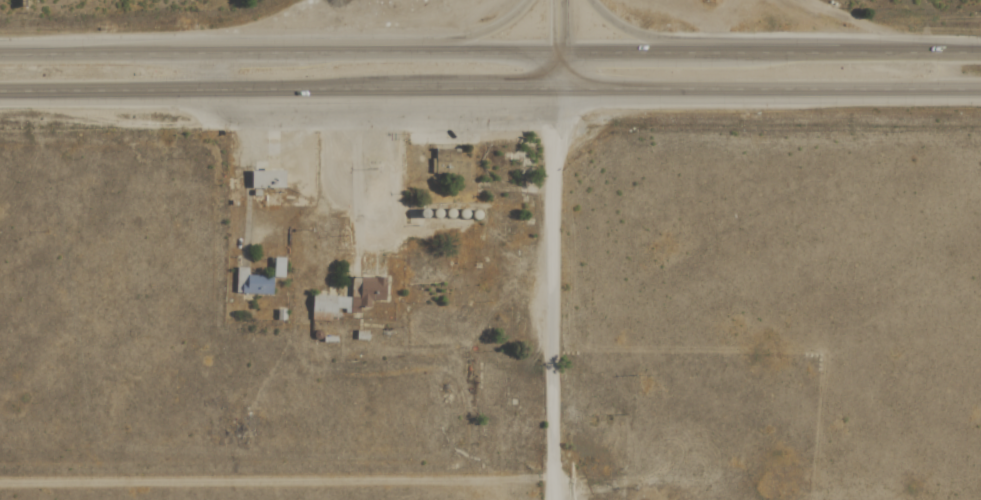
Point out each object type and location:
road: (333, 41)
road: (730, 43)
road: (561, 46)
road: (490, 57)
road: (490, 94)
building: (267, 180)
building: (253, 283)
road: (553, 296)

